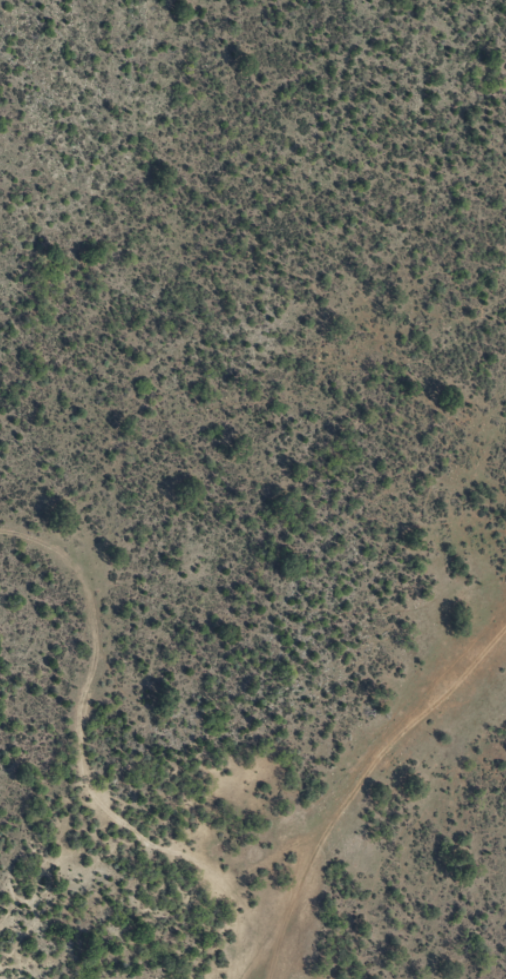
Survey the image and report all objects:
road: (379, 814)

